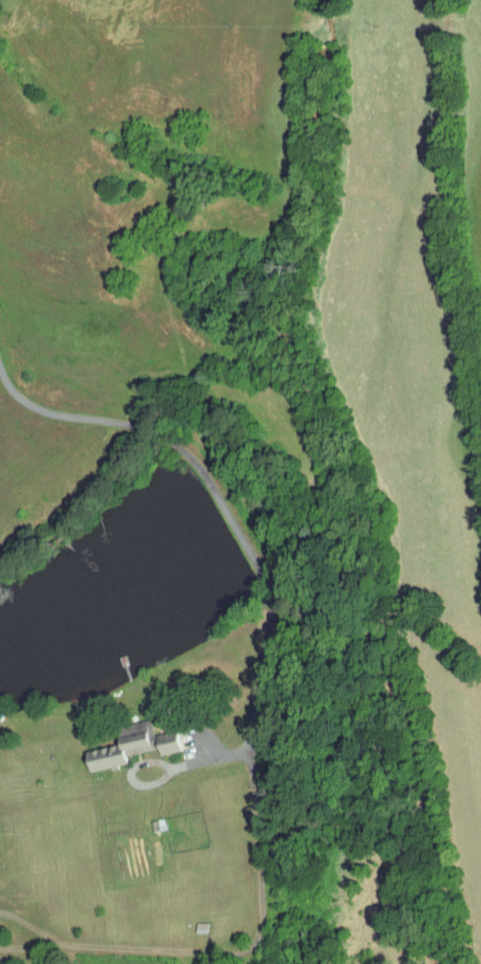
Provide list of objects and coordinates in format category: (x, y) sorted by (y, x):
road: (227, 510)
building: (170, 741)
building: (125, 745)

